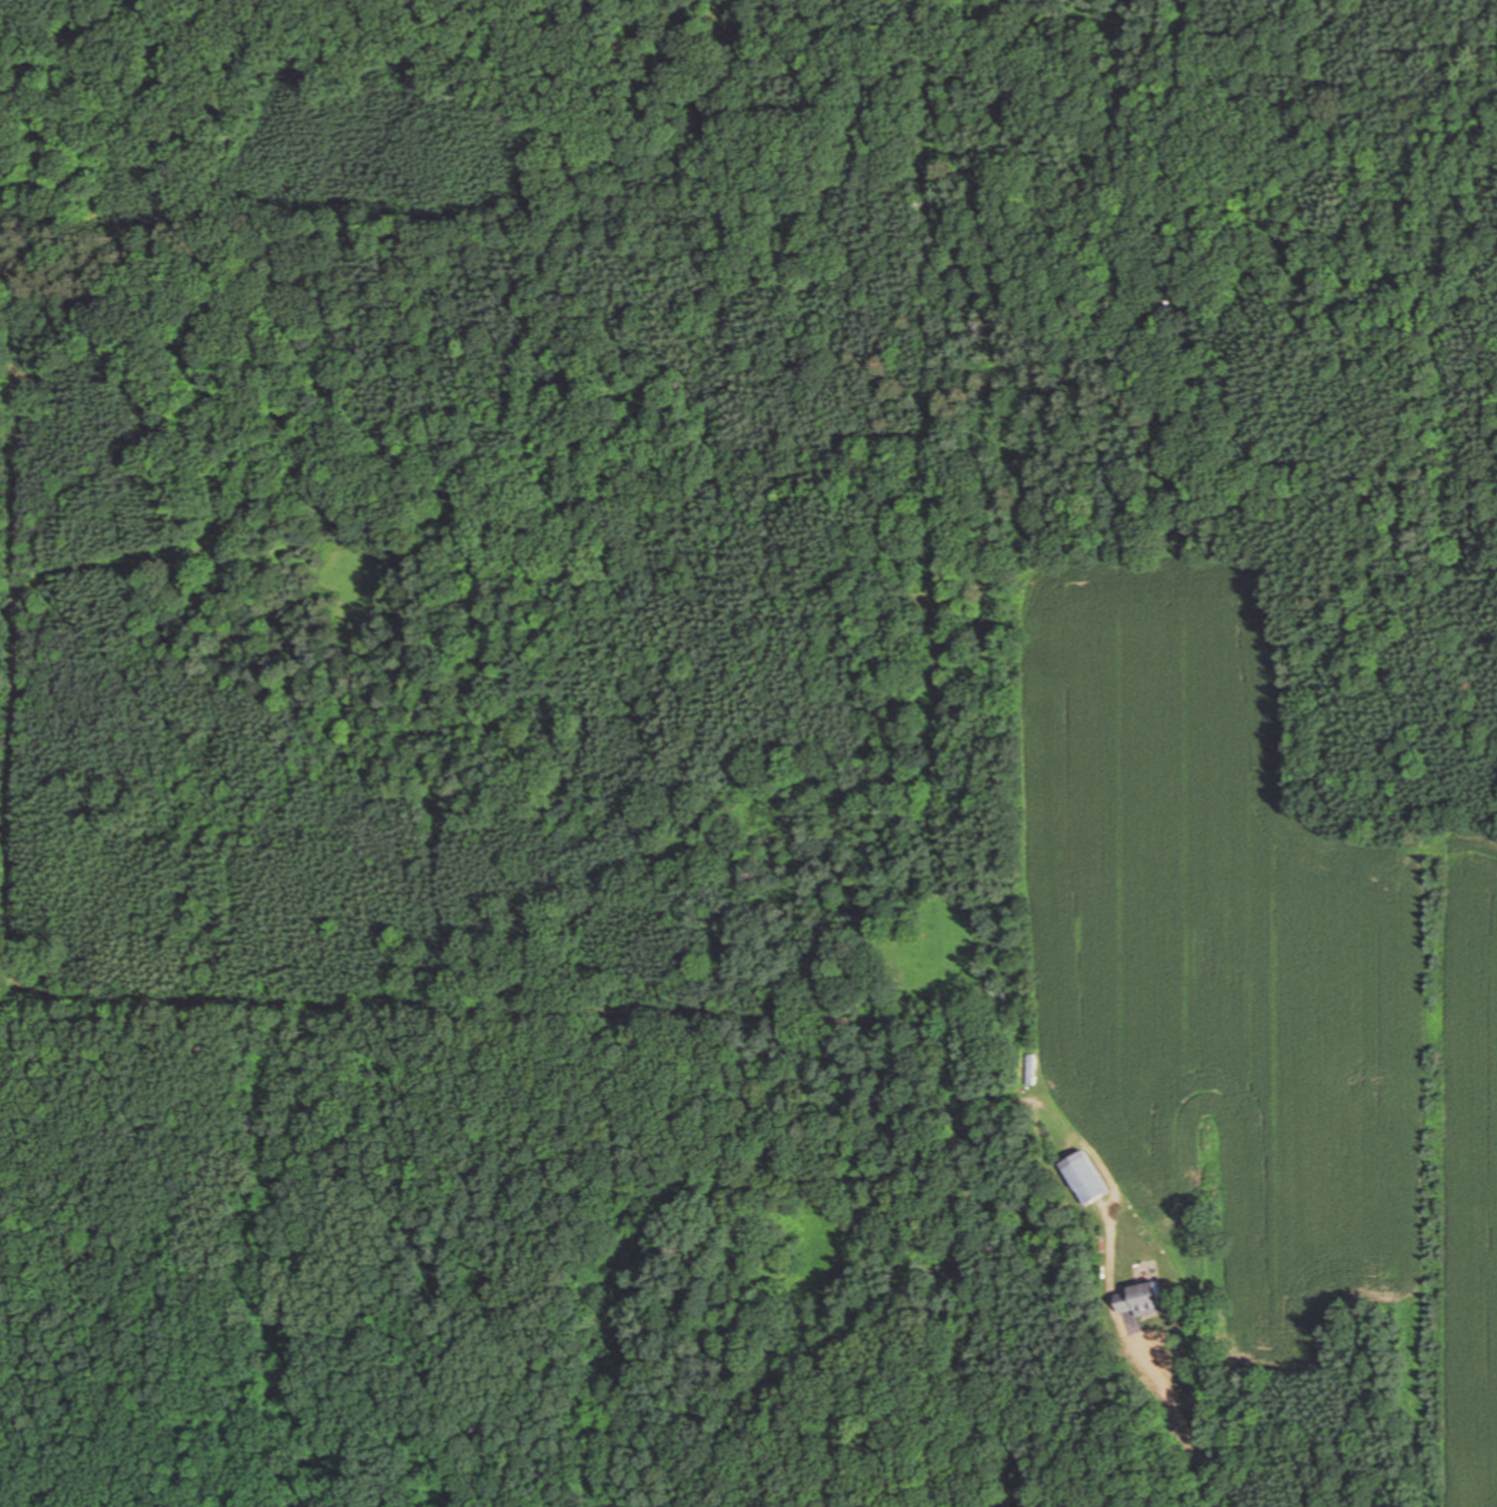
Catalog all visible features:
crop: (1340, 1032)
building: (1090, 1181)
building: (1147, 1300)

